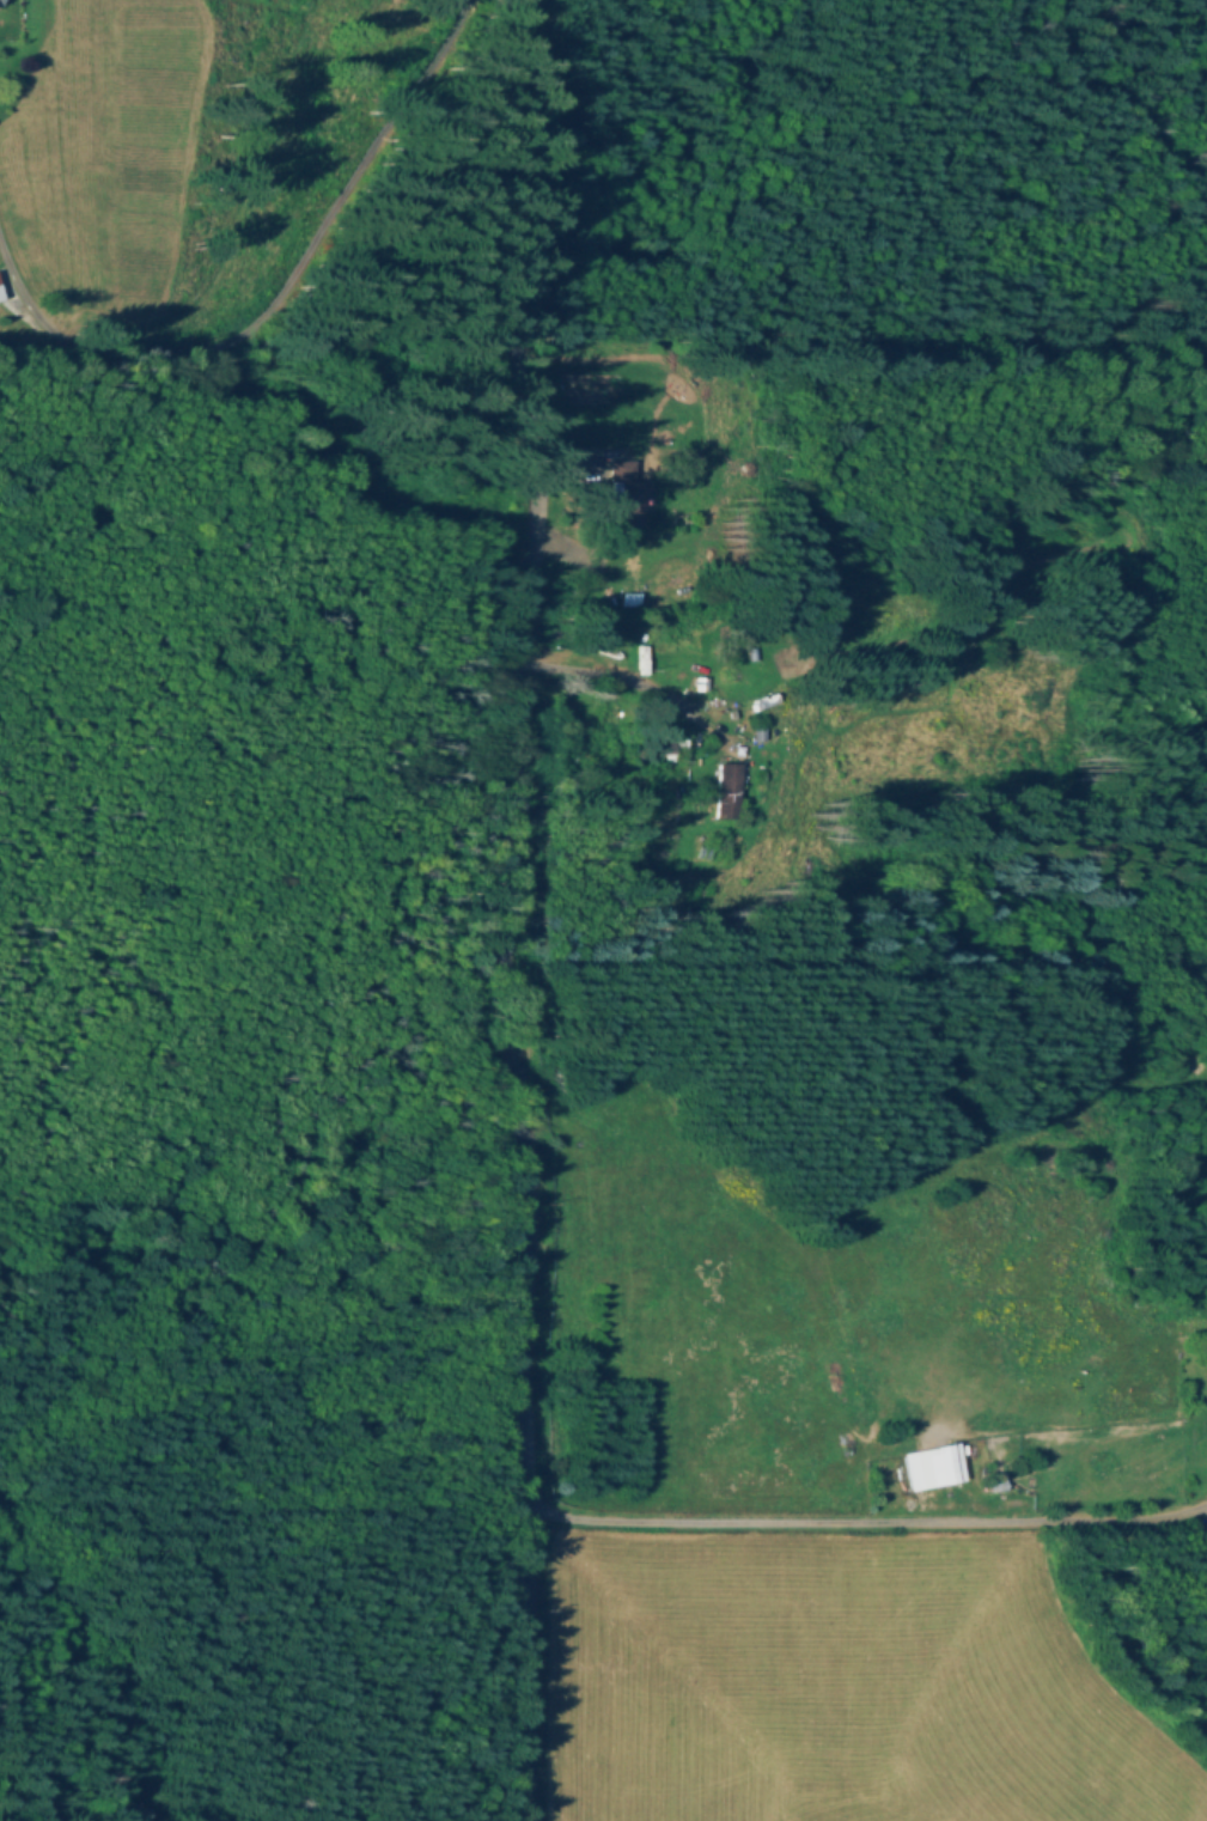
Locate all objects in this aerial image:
building: (0, 302)
building: (624, 498)
building: (758, 732)
building: (663, 750)
building: (727, 792)
road: (530, 911)
building: (929, 1467)
road: (866, 1518)

